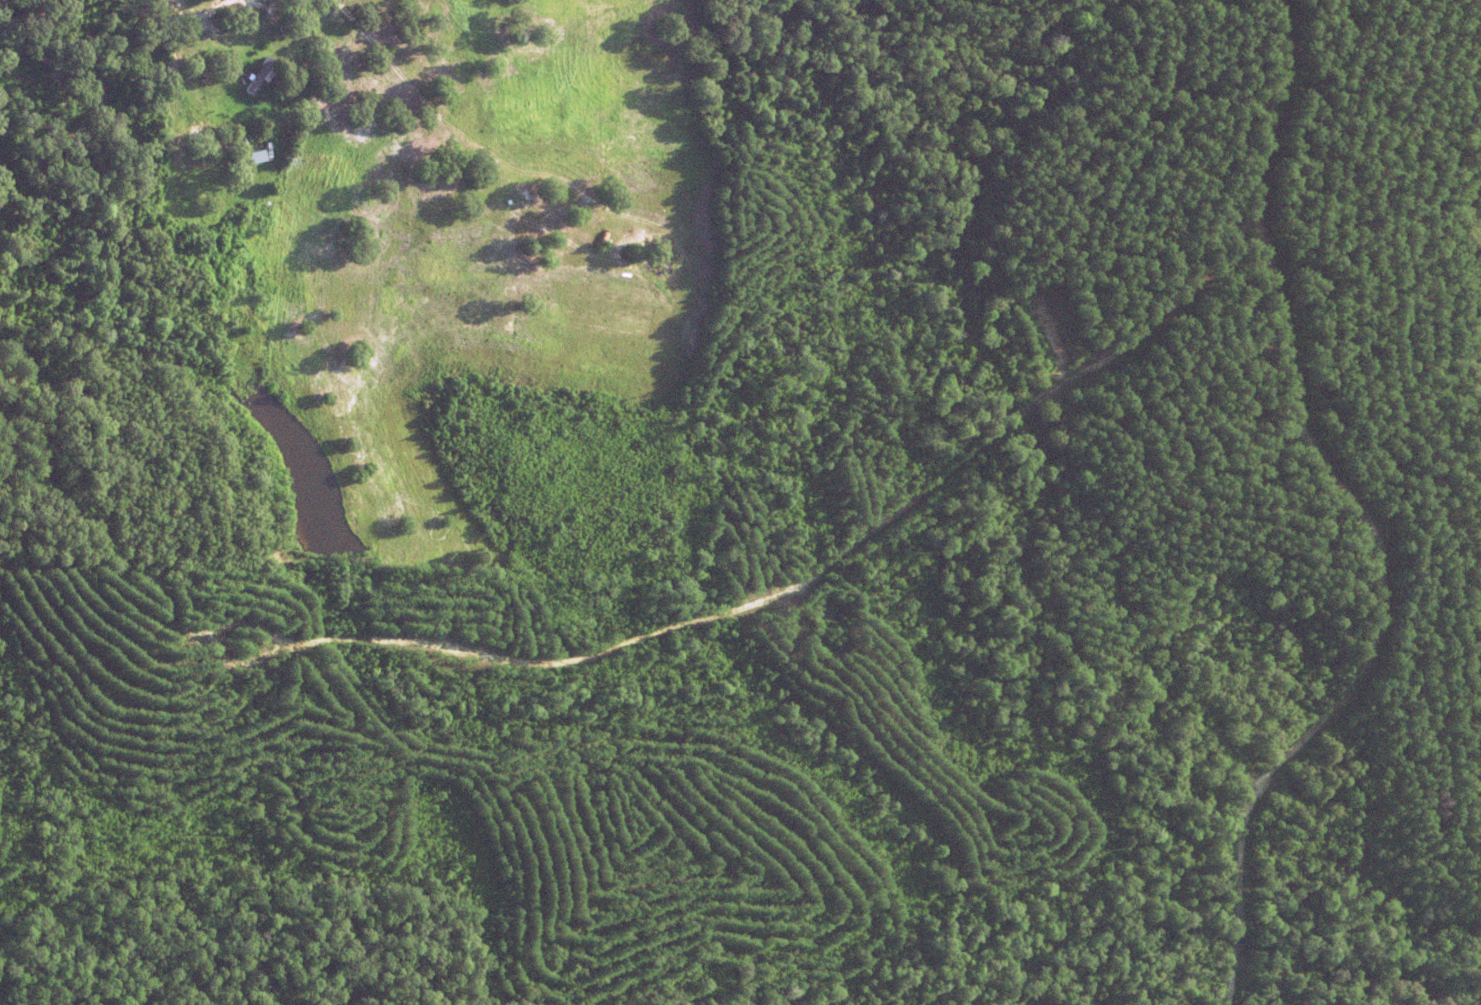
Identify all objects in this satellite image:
building: (283, 30)
building: (258, 71)
building: (277, 88)
building: (251, 156)

